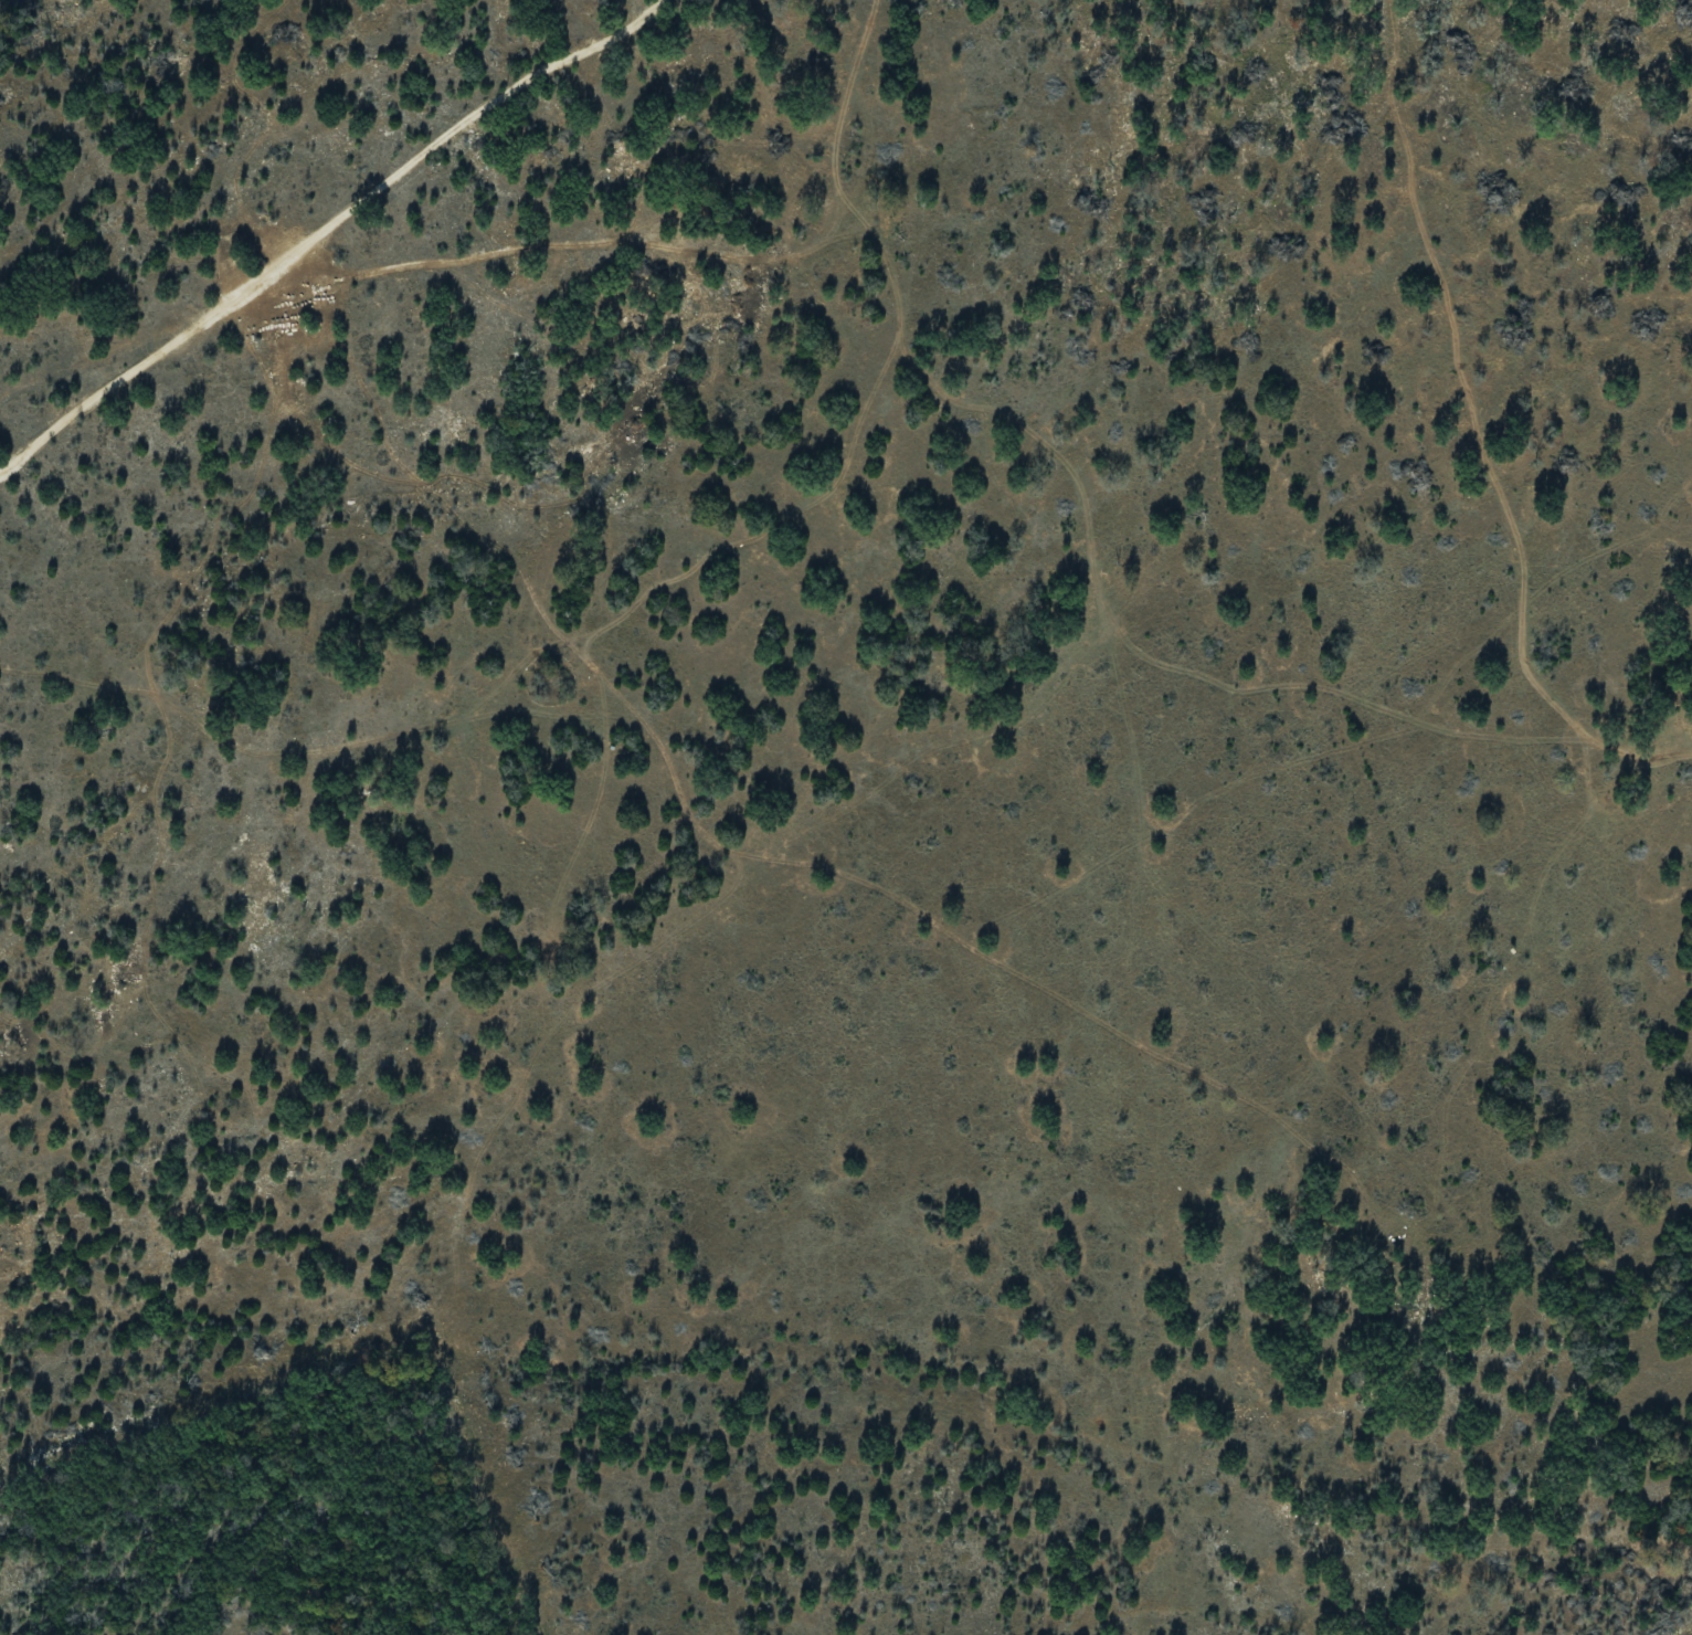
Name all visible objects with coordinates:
road: (326, 228)

